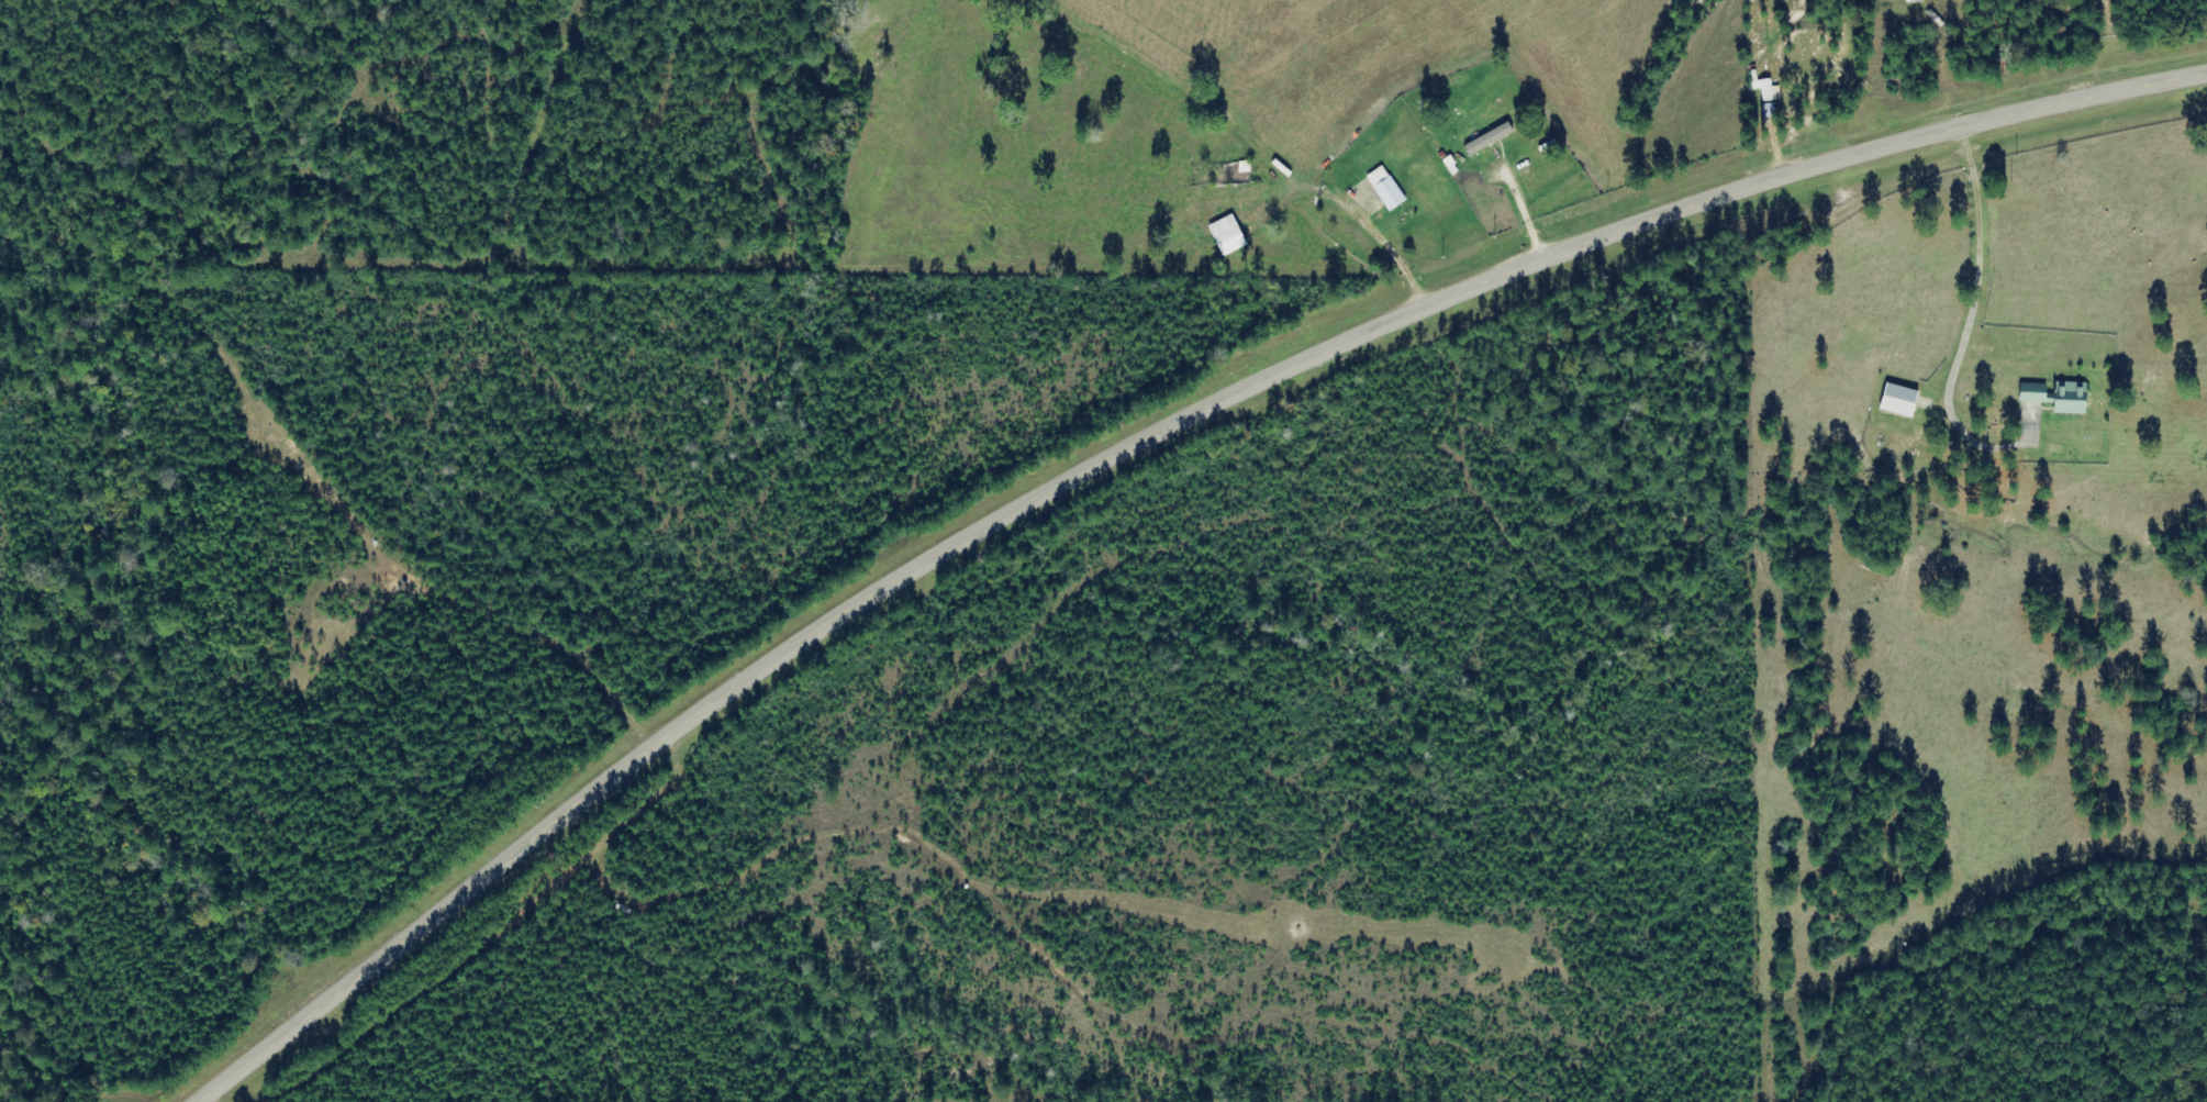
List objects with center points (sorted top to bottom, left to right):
building: (1770, 88)
road: (1573, 116)
building: (1494, 138)
building: (1391, 188)
building: (1233, 235)
building: (1906, 400)
road: (1128, 444)

